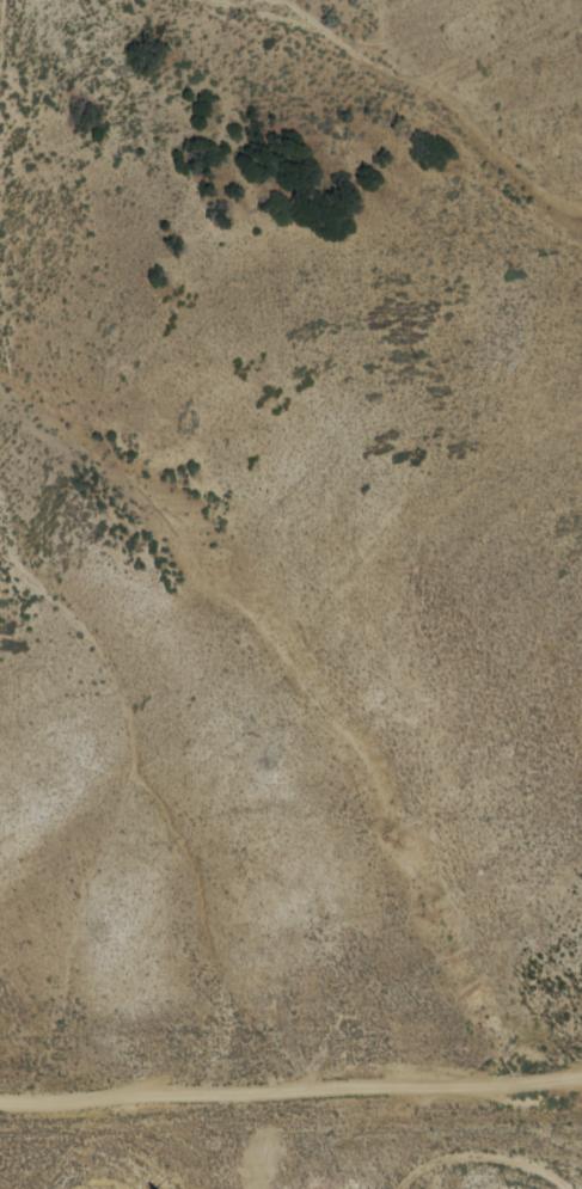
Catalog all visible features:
road: (290, 1093)

